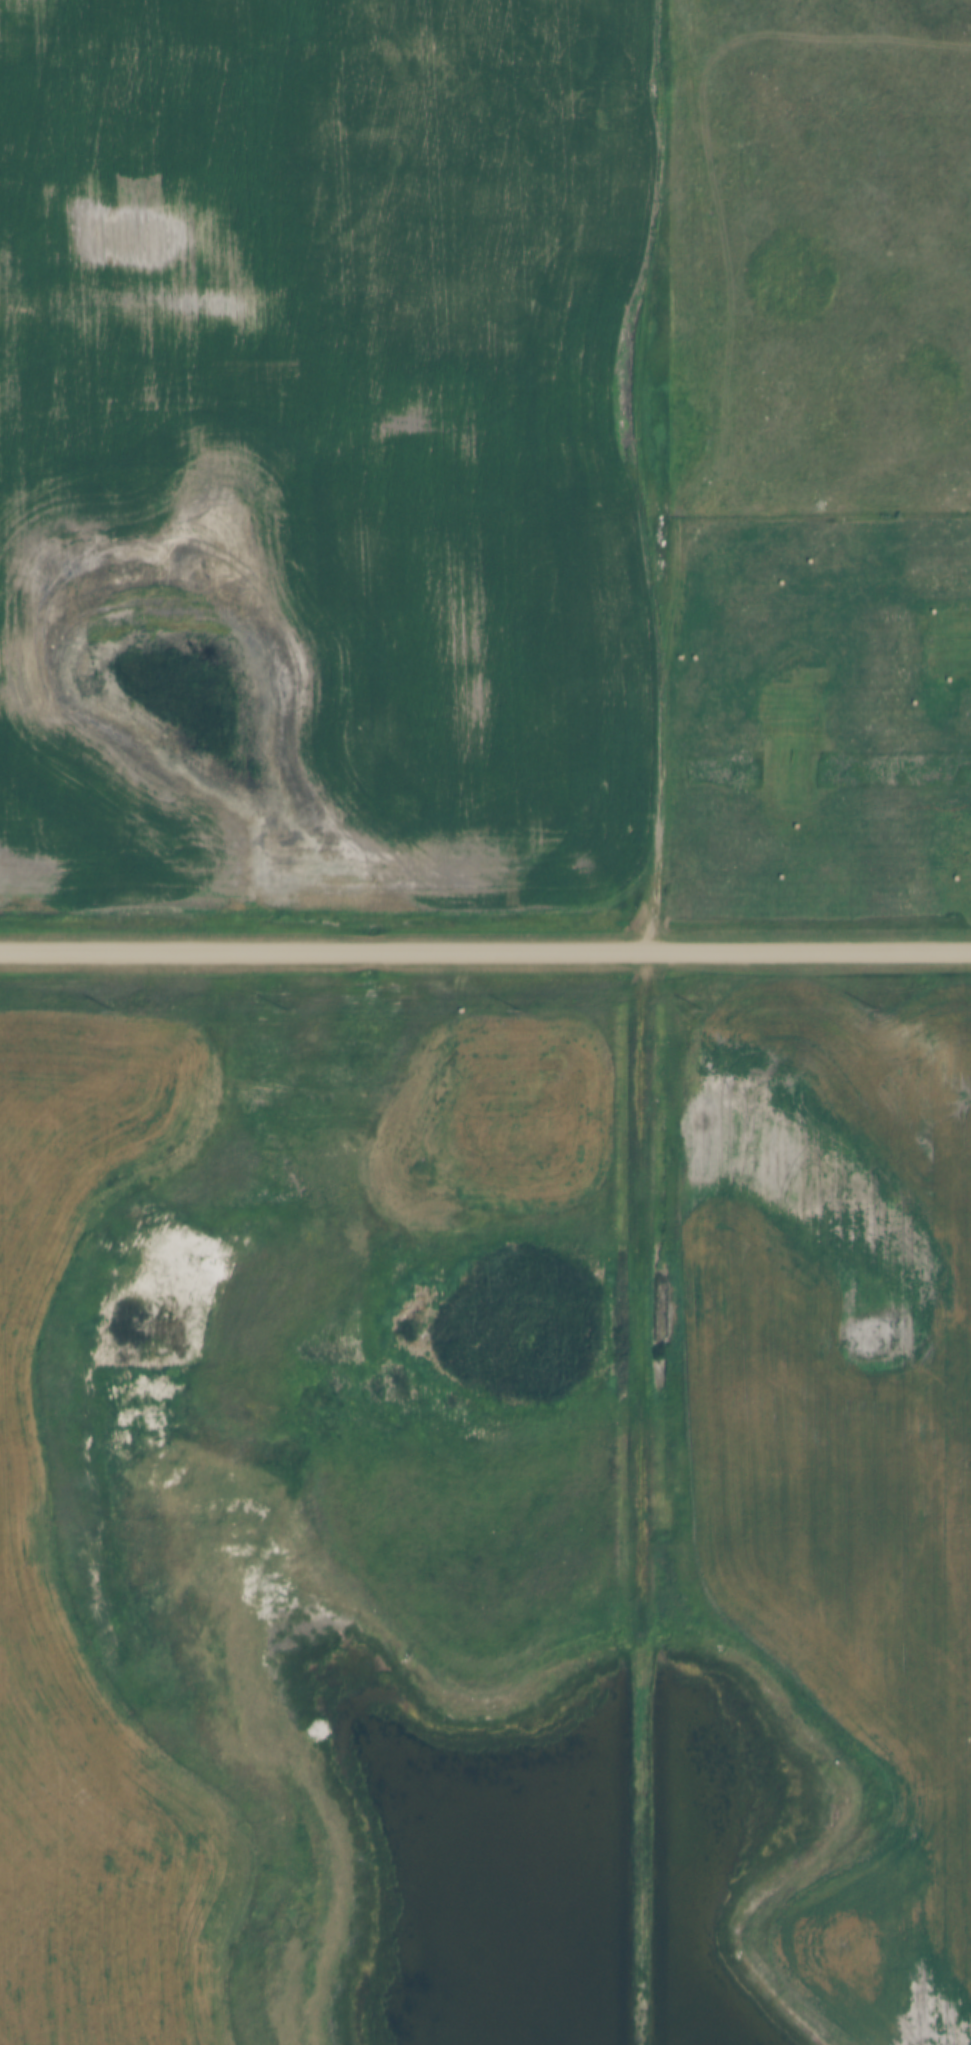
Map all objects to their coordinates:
road: (636, 475)
road: (485, 952)
road: (637, 1498)

